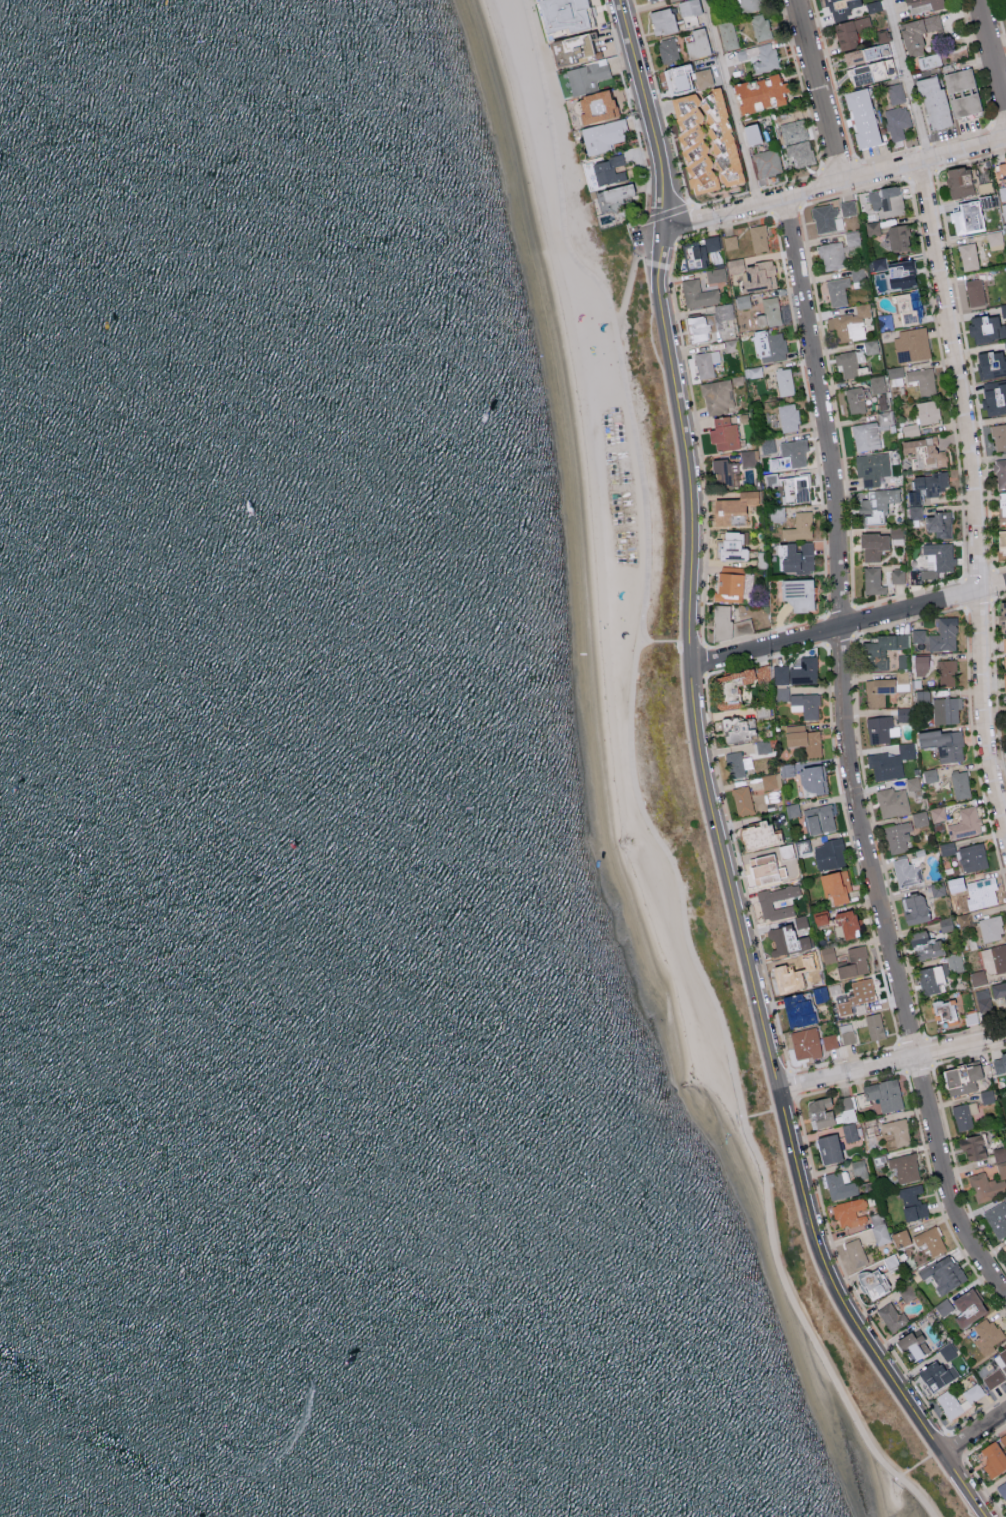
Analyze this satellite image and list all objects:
building: (649, 0)
building: (749, 4)
building: (841, 4)
building: (922, 4)
building: (873, 6)
building: (688, 7)
building: (570, 16)
building: (661, 20)
road: (999, 22)
building: (759, 26)
building: (852, 31)
building: (917, 32)
building: (727, 34)
building: (883, 35)
building: (697, 43)
building: (668, 50)
building: (872, 50)
building: (578, 51)
road: (992, 52)
building: (759, 56)
building: (929, 60)
building: (870, 70)
building: (586, 76)
building: (679, 76)
building: (702, 76)
building: (957, 79)
road: (833, 80)
road: (907, 80)
road: (800, 84)
road: (819, 91)
building: (758, 92)
building: (895, 92)
road: (984, 94)
road: (731, 102)
building: (933, 102)
building: (964, 104)
building: (594, 105)
road: (549, 106)
road: (632, 116)
building: (861, 117)
building: (896, 121)
road: (999, 123)
road: (669, 130)
building: (793, 130)
building: (750, 133)
building: (602, 135)
building: (705, 140)
road: (924, 146)
building: (800, 152)
road: (887, 155)
road: (970, 160)
building: (766, 162)
road: (838, 164)
building: (608, 169)
building: (1000, 170)
road: (922, 174)
road: (791, 180)
building: (957, 180)
road: (834, 184)
road: (881, 185)
road: (753, 190)
building: (616, 193)
building: (886, 201)
building: (847, 207)
road: (784, 209)
building: (1004, 211)
road: (666, 212)
building: (965, 217)
building: (826, 218)
road: (683, 224)
road: (721, 226)
building: (872, 227)
building: (1004, 229)
parking lot: (636, 235)
road: (642, 237)
building: (747, 237)
building: (897, 237)
building: (852, 238)
building: (994, 240)
road: (657, 248)
building: (697, 250)
building: (831, 255)
building: (968, 255)
building: (877, 264)
building: (753, 273)
building: (716, 274)
building: (902, 274)
road: (630, 276)
building: (837, 290)
building: (974, 291)
building: (698, 293)
building: (742, 300)
building: (904, 308)
building: (1003, 309)
building: (768, 310)
building: (852, 321)
building: (696, 327)
building: (985, 328)
building: (910, 344)
building: (770, 345)
building: (1005, 345)
building: (870, 346)
building: (706, 362)
building: (846, 362)
building: (990, 363)
road: (969, 369)
building: (895, 375)
road: (829, 377)
building: (922, 379)
building: (783, 381)
building: (877, 384)
building: (717, 396)
building: (993, 397)
building: (855, 399)
building: (926, 411)
building: (787, 417)
building: (910, 429)
building: (723, 432)
road: (954, 434)
building: (865, 436)
building: (998, 436)
road: (699, 443)
building: (767, 444)
road: (676, 449)
building: (924, 449)
building: (789, 454)
building: (747, 458)
building: (871, 467)
building: (724, 472)
building: (1000, 472)
road: (818, 475)
building: (925, 485)
building: (795, 488)
road: (976, 496)
building: (1002, 503)
building: (876, 505)
building: (732, 508)
building: (915, 512)
building: (776, 513)
building: (938, 523)
building: (798, 526)
building: (1001, 541)
building: (872, 545)
building: (731, 546)
building: (796, 557)
building: (933, 562)
road: (999, 568)
road: (978, 574)
building: (897, 575)
building: (749, 579)
building: (872, 580)
building: (729, 583)
road: (990, 584)
building: (797, 593)
road: (964, 606)
building: (1003, 609)
road: (840, 612)
building: (727, 623)
road: (850, 627)
road: (827, 630)
road: (852, 634)
building: (938, 635)
road: (691, 646)
building: (882, 649)
building: (1004, 652)
road: (704, 659)
building: (902, 660)
building: (922, 660)
building: (797, 671)
building: (946, 672)
building: (1004, 681)
building: (733, 683)
building: (878, 691)
building: (800, 702)
building: (945, 709)
building: (902, 713)
building: (880, 728)
building: (736, 729)
building: (802, 738)
building: (942, 743)
building: (763, 746)
road: (847, 757)
building: (889, 761)
building: (736, 764)
building: (786, 770)
building: (929, 775)
building: (811, 780)
building: (768, 781)
building: (912, 783)
road: (708, 784)
building: (960, 784)
building: (742, 800)
building: (891, 802)
building: (792, 809)
building: (937, 813)
building: (919, 818)
building: (818, 819)
building: (965, 823)
building: (756, 834)
building: (897, 837)
building: (803, 847)
building: (947, 848)
building: (830, 854)
building: (971, 857)
building: (762, 868)
building: (907, 873)
road: (719, 879)
road: (681, 881)
building: (955, 884)
building: (835, 886)
building: (937, 889)
building: (985, 891)
building: (765, 902)
building: (914, 909)
building: (819, 919)
building: (800, 921)
building: (846, 924)
building: (945, 924)
building: (990, 928)
building: (786, 940)
building: (924, 945)
building: (828, 954)
building: (994, 958)
building: (807, 961)
building: (854, 962)
building: (955, 962)
building: (787, 976)
building: (978, 977)
building: (929, 979)
building: (999, 990)
building: (856, 995)
building: (983, 999)
building: (797, 1010)
building: (943, 1010)
building: (874, 1026)
building: (847, 1033)
building: (829, 1041)
building: (805, 1043)
building: (998, 1062)
road: (892, 1064)
building: (961, 1079)
building: (884, 1094)
building: (847, 1102)
building: (820, 1112)
building: (963, 1114)
building: (848, 1115)
building: (871, 1130)
building: (896, 1130)
building: (850, 1132)
building: (973, 1147)
building: (828, 1149)
building: (1000, 1160)
building: (904, 1167)
building: (859, 1169)
building: (839, 1185)
building: (985, 1186)
building: (912, 1202)
building: (850, 1212)
building: (997, 1218)
building: (880, 1234)
building: (899, 1238)
building: (929, 1240)
building: (1004, 1246)
building: (855, 1252)
building: (845, 1261)
building: (943, 1274)
building: (872, 1284)
road: (827, 1292)
building: (944, 1307)
building: (967, 1308)
building: (891, 1317)
building: (986, 1335)
building: (912, 1345)
building: (947, 1351)
building: (1003, 1355)
building: (936, 1375)
building: (993, 1378)
building: (946, 1401)
road: (973, 1431)
building: (1003, 1439)
road: (955, 1443)
building: (993, 1459)
road: (953, 1485)
building: (1002, 1489)

